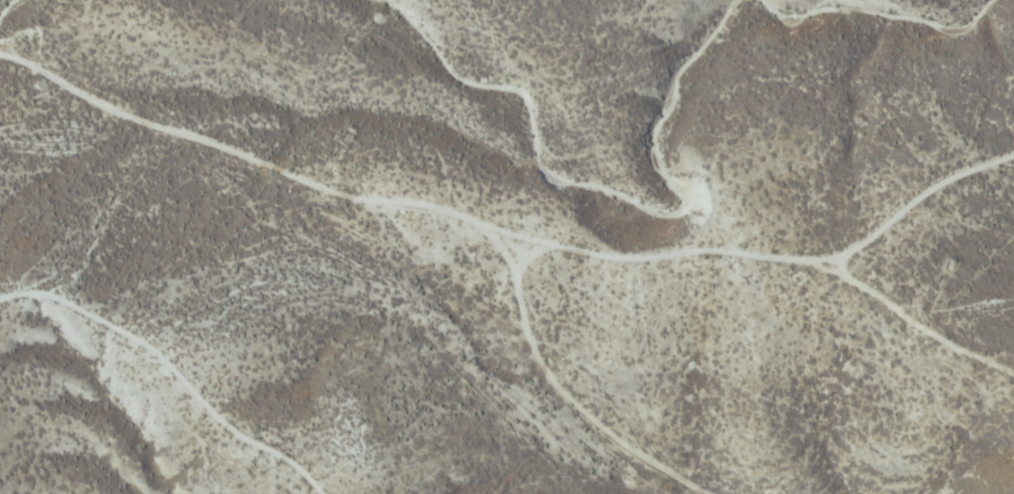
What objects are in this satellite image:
road: (621, 255)

